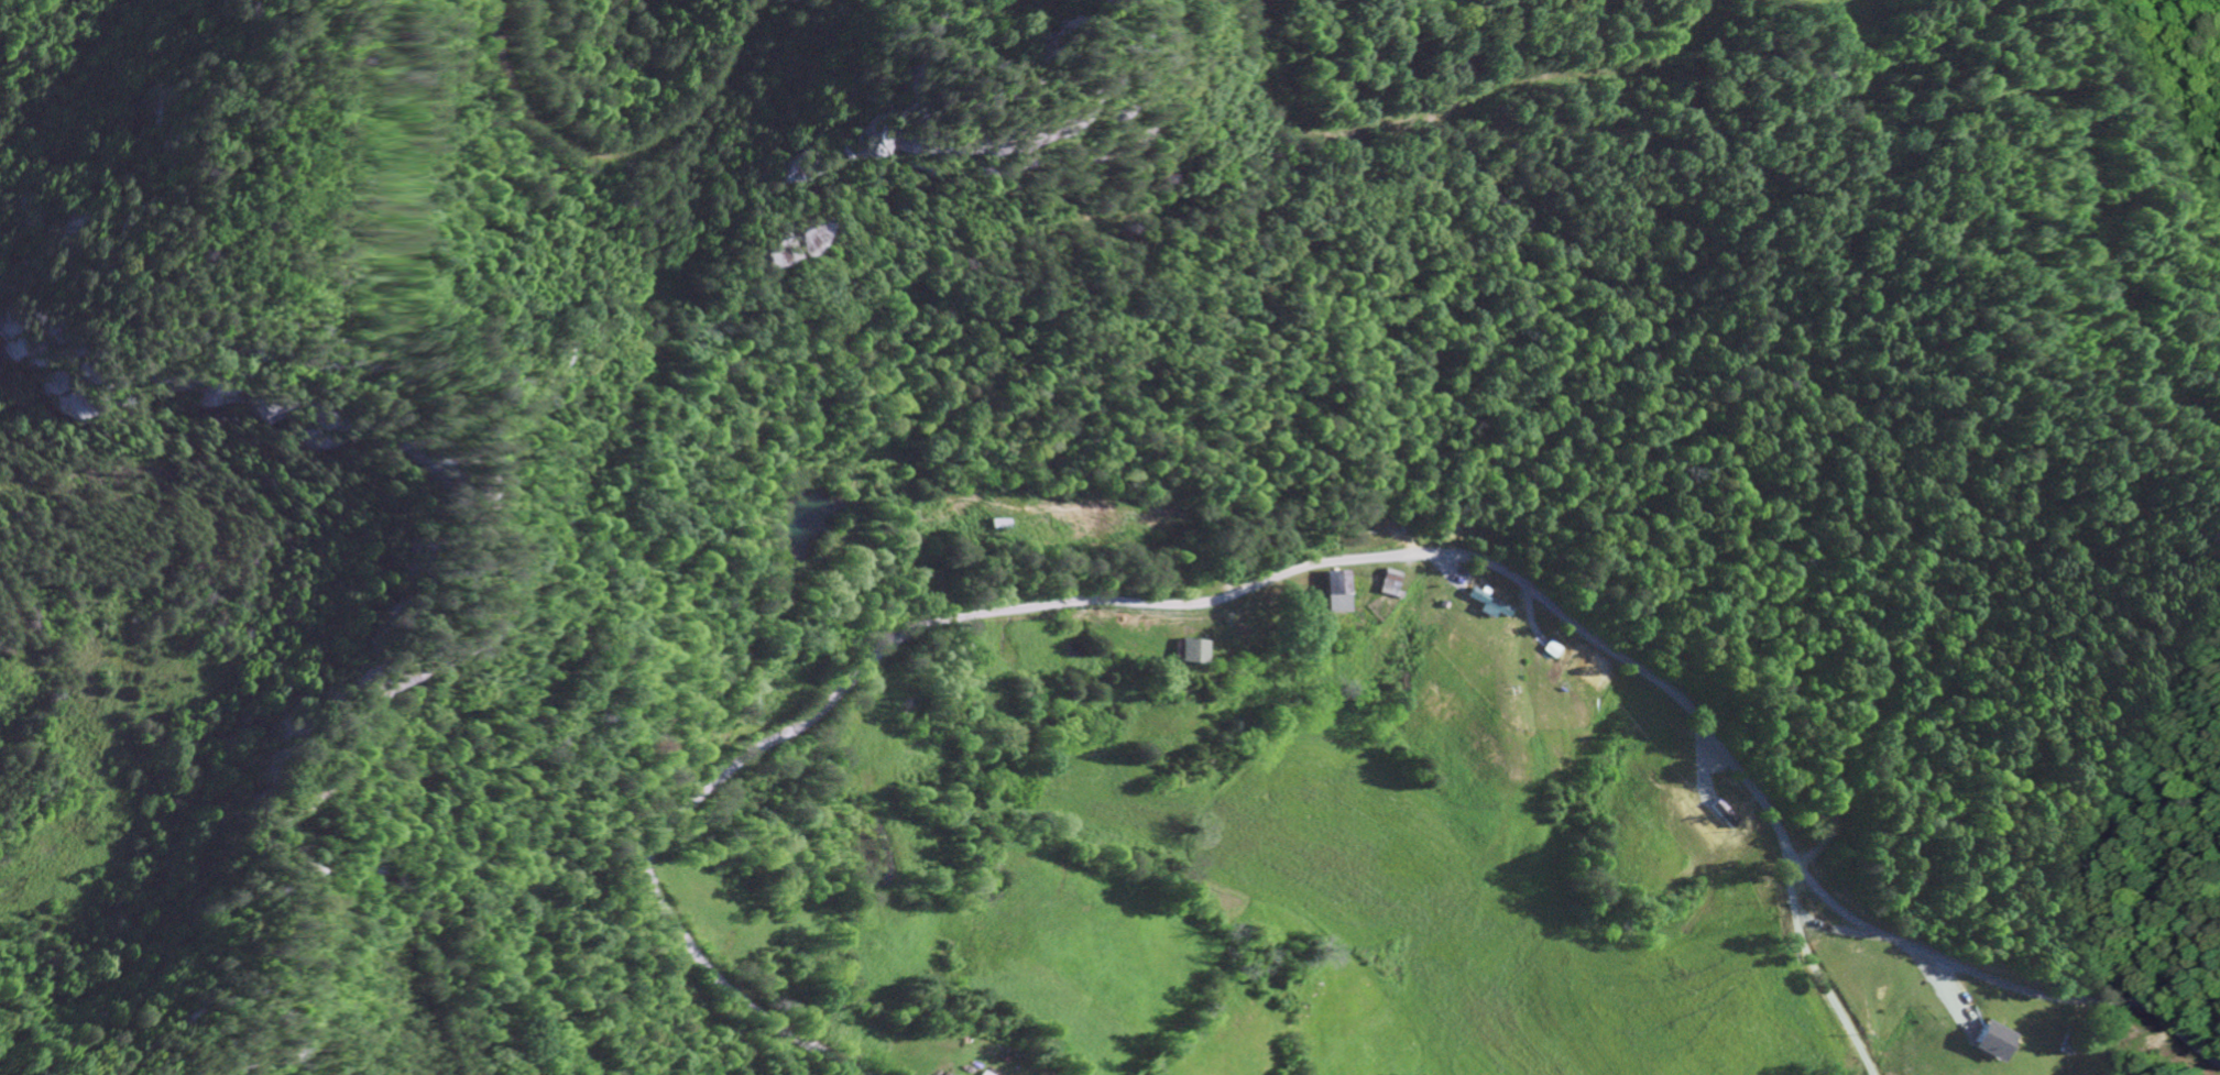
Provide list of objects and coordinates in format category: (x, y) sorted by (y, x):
road: (1321, 562)
building: (1387, 580)
building: (1331, 590)
building: (1484, 605)
building: (1190, 650)
building: (1992, 1040)

